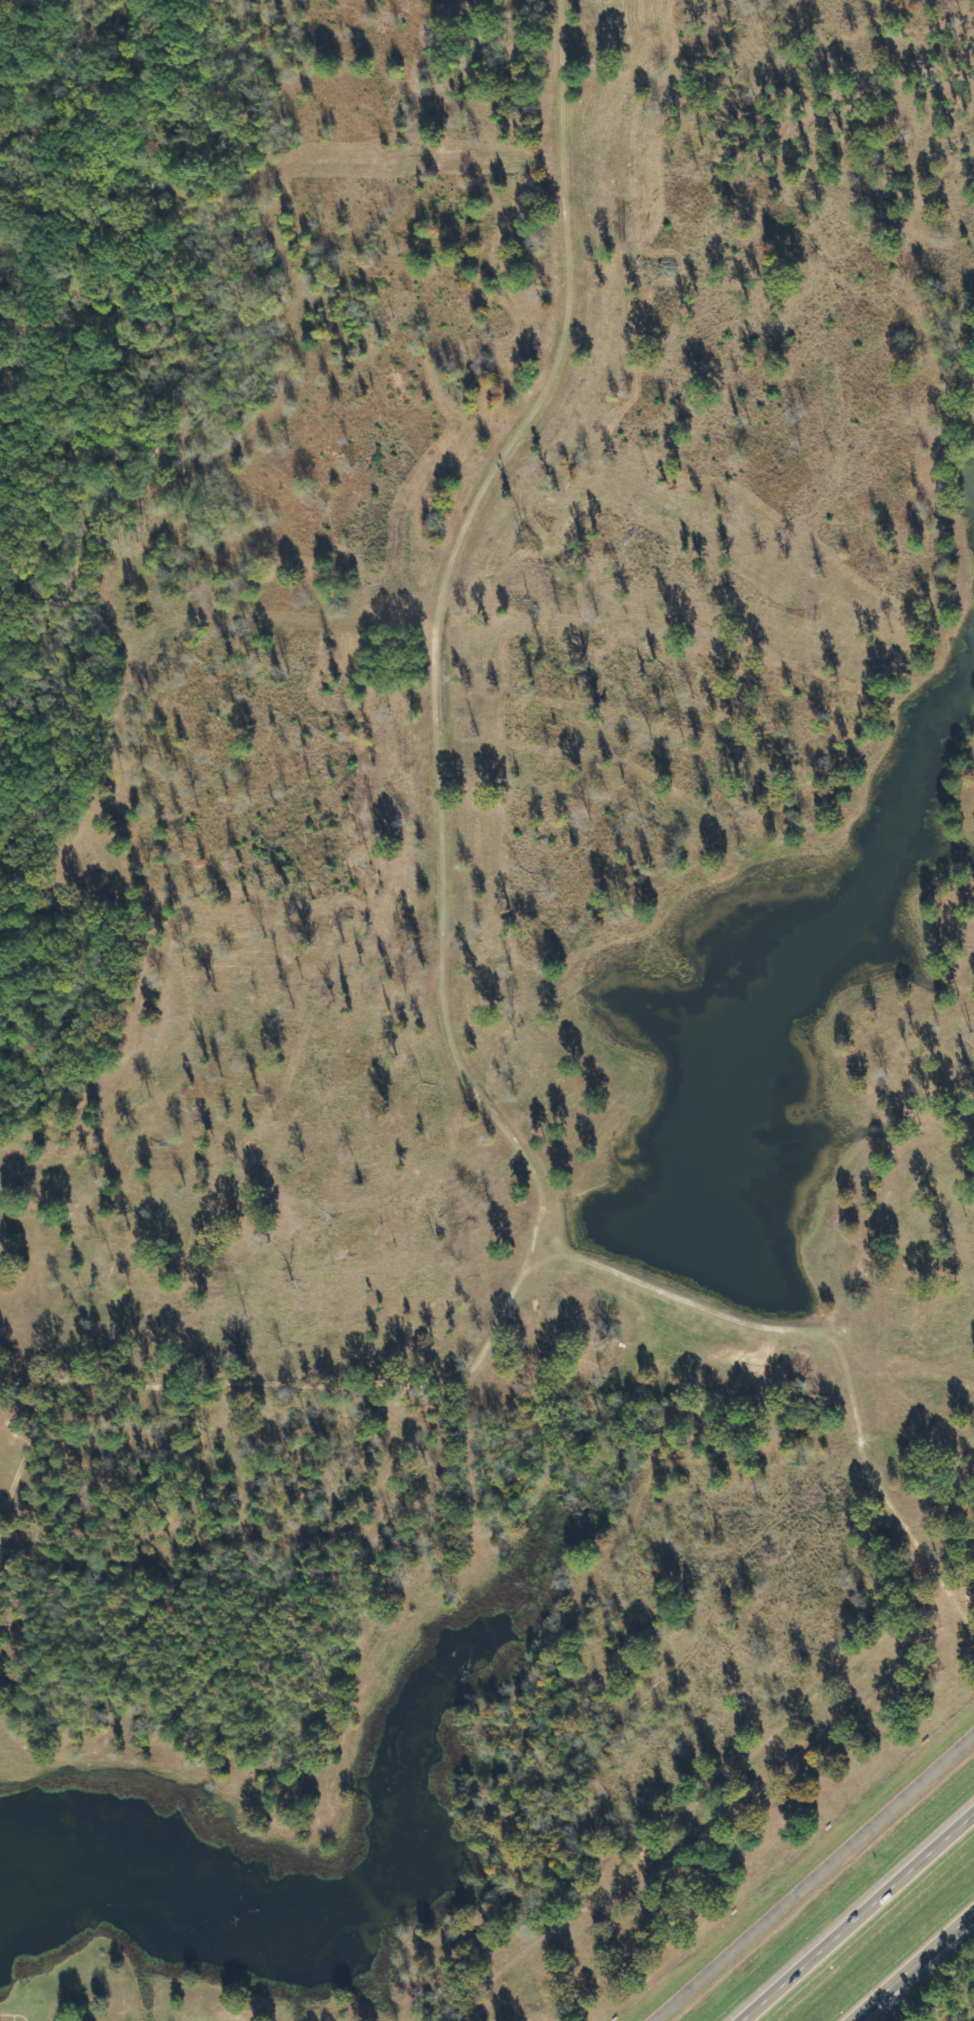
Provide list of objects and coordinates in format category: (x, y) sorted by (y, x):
road: (815, 1879)
road: (862, 1921)
road: (917, 1969)

